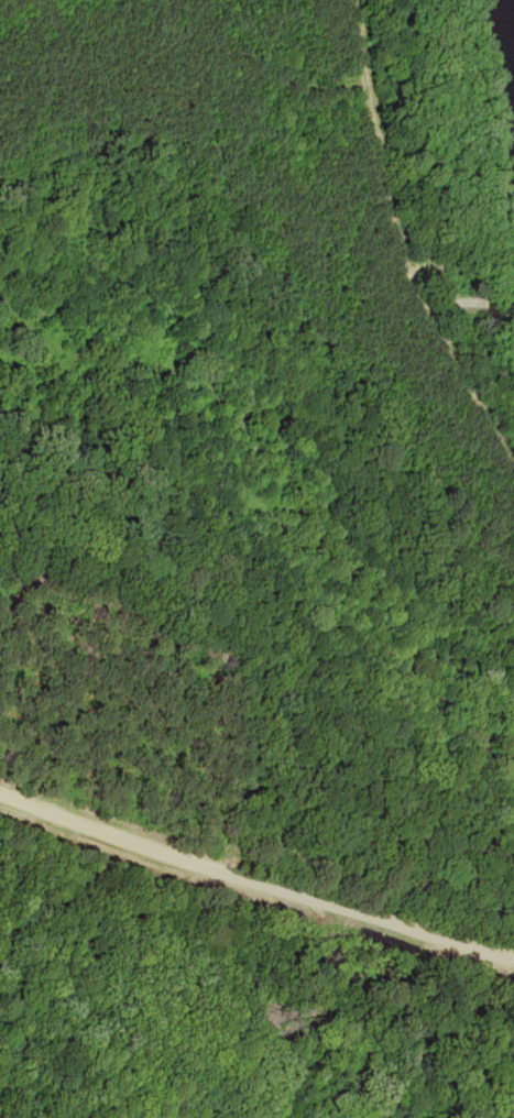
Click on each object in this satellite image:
road: (253, 876)

